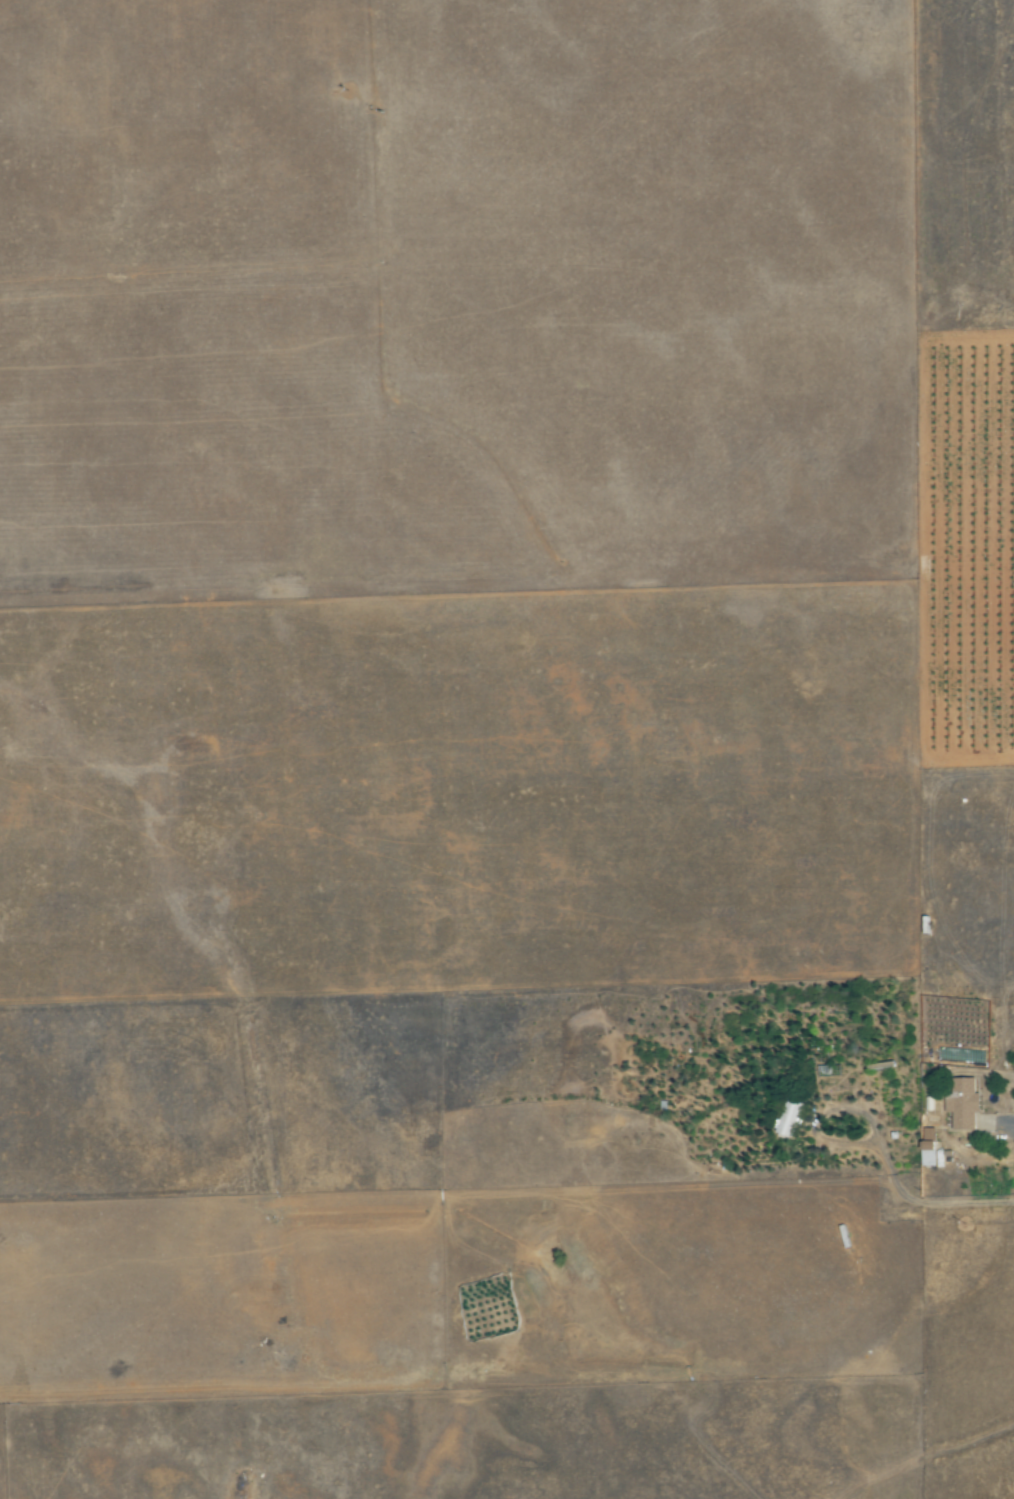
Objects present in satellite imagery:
building: (879, 1058)
building: (828, 1071)
building: (964, 1104)
building: (789, 1118)
road: (1010, 1121)
building: (929, 1135)
building: (929, 1154)

